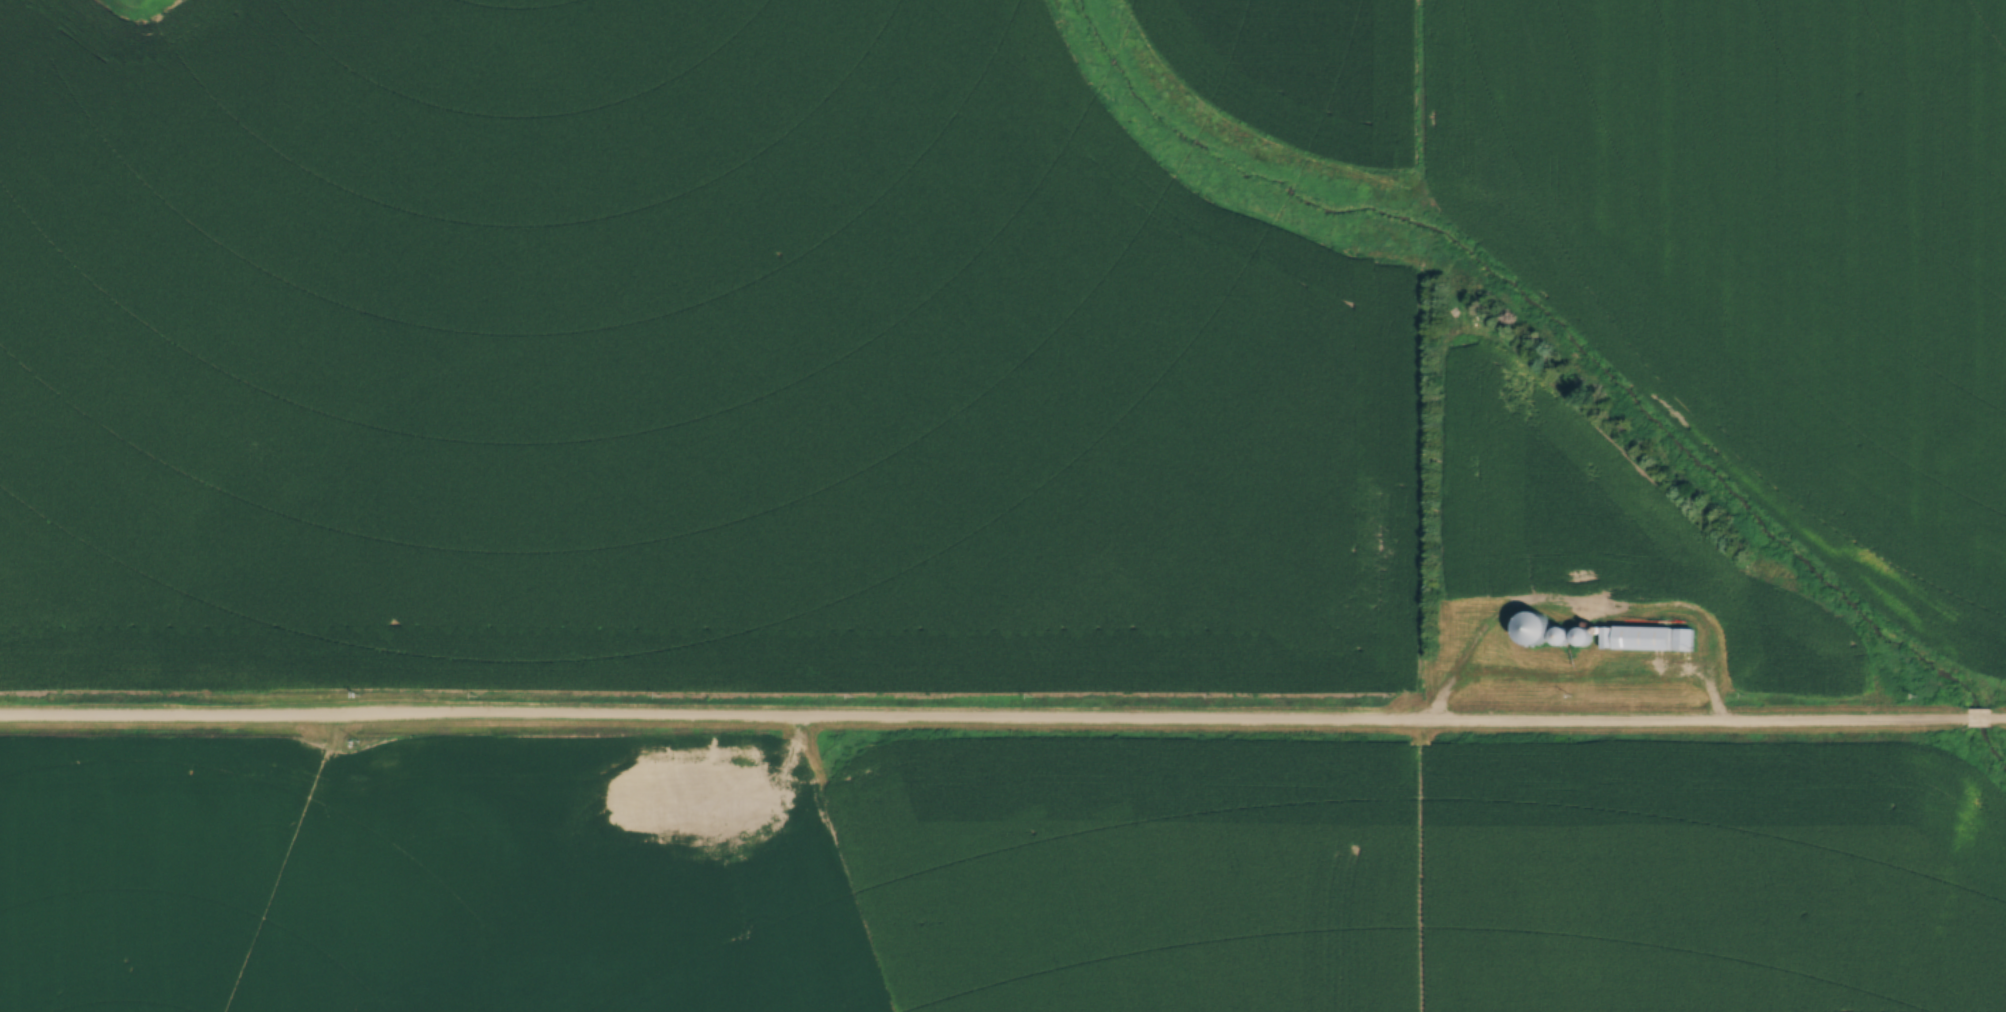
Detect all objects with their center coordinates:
building: (1534, 627)
building: (1560, 635)
building: (1583, 636)
building: (1645, 646)
road: (1003, 723)

